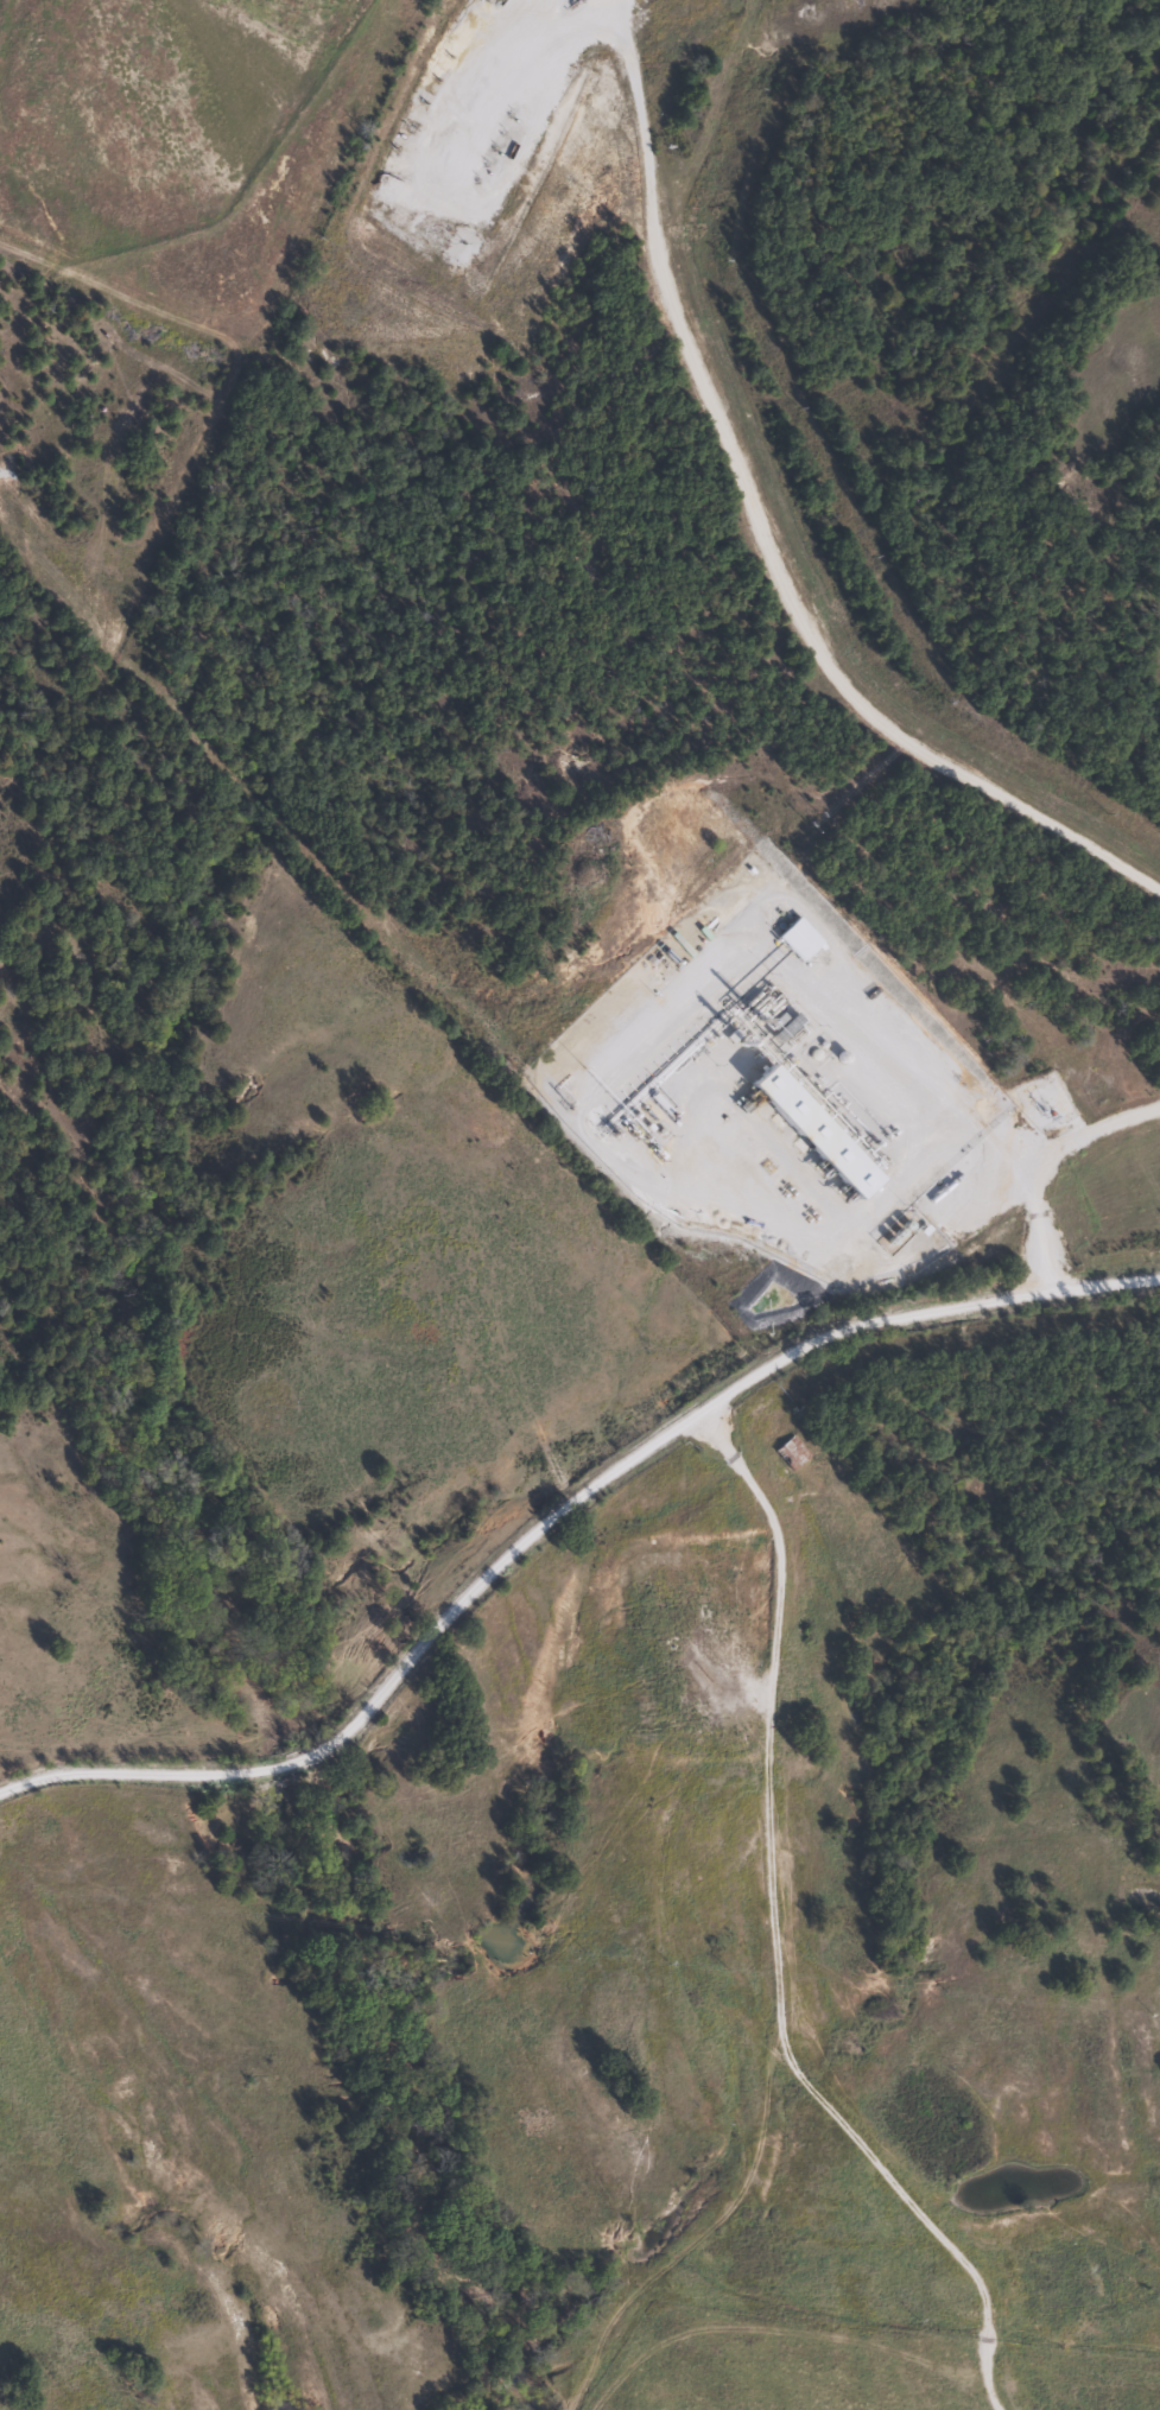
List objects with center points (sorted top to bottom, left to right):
road: (755, 537)
building: (799, 939)
road: (1034, 1155)
building: (791, 1453)
road: (559, 1523)
road: (773, 1941)

